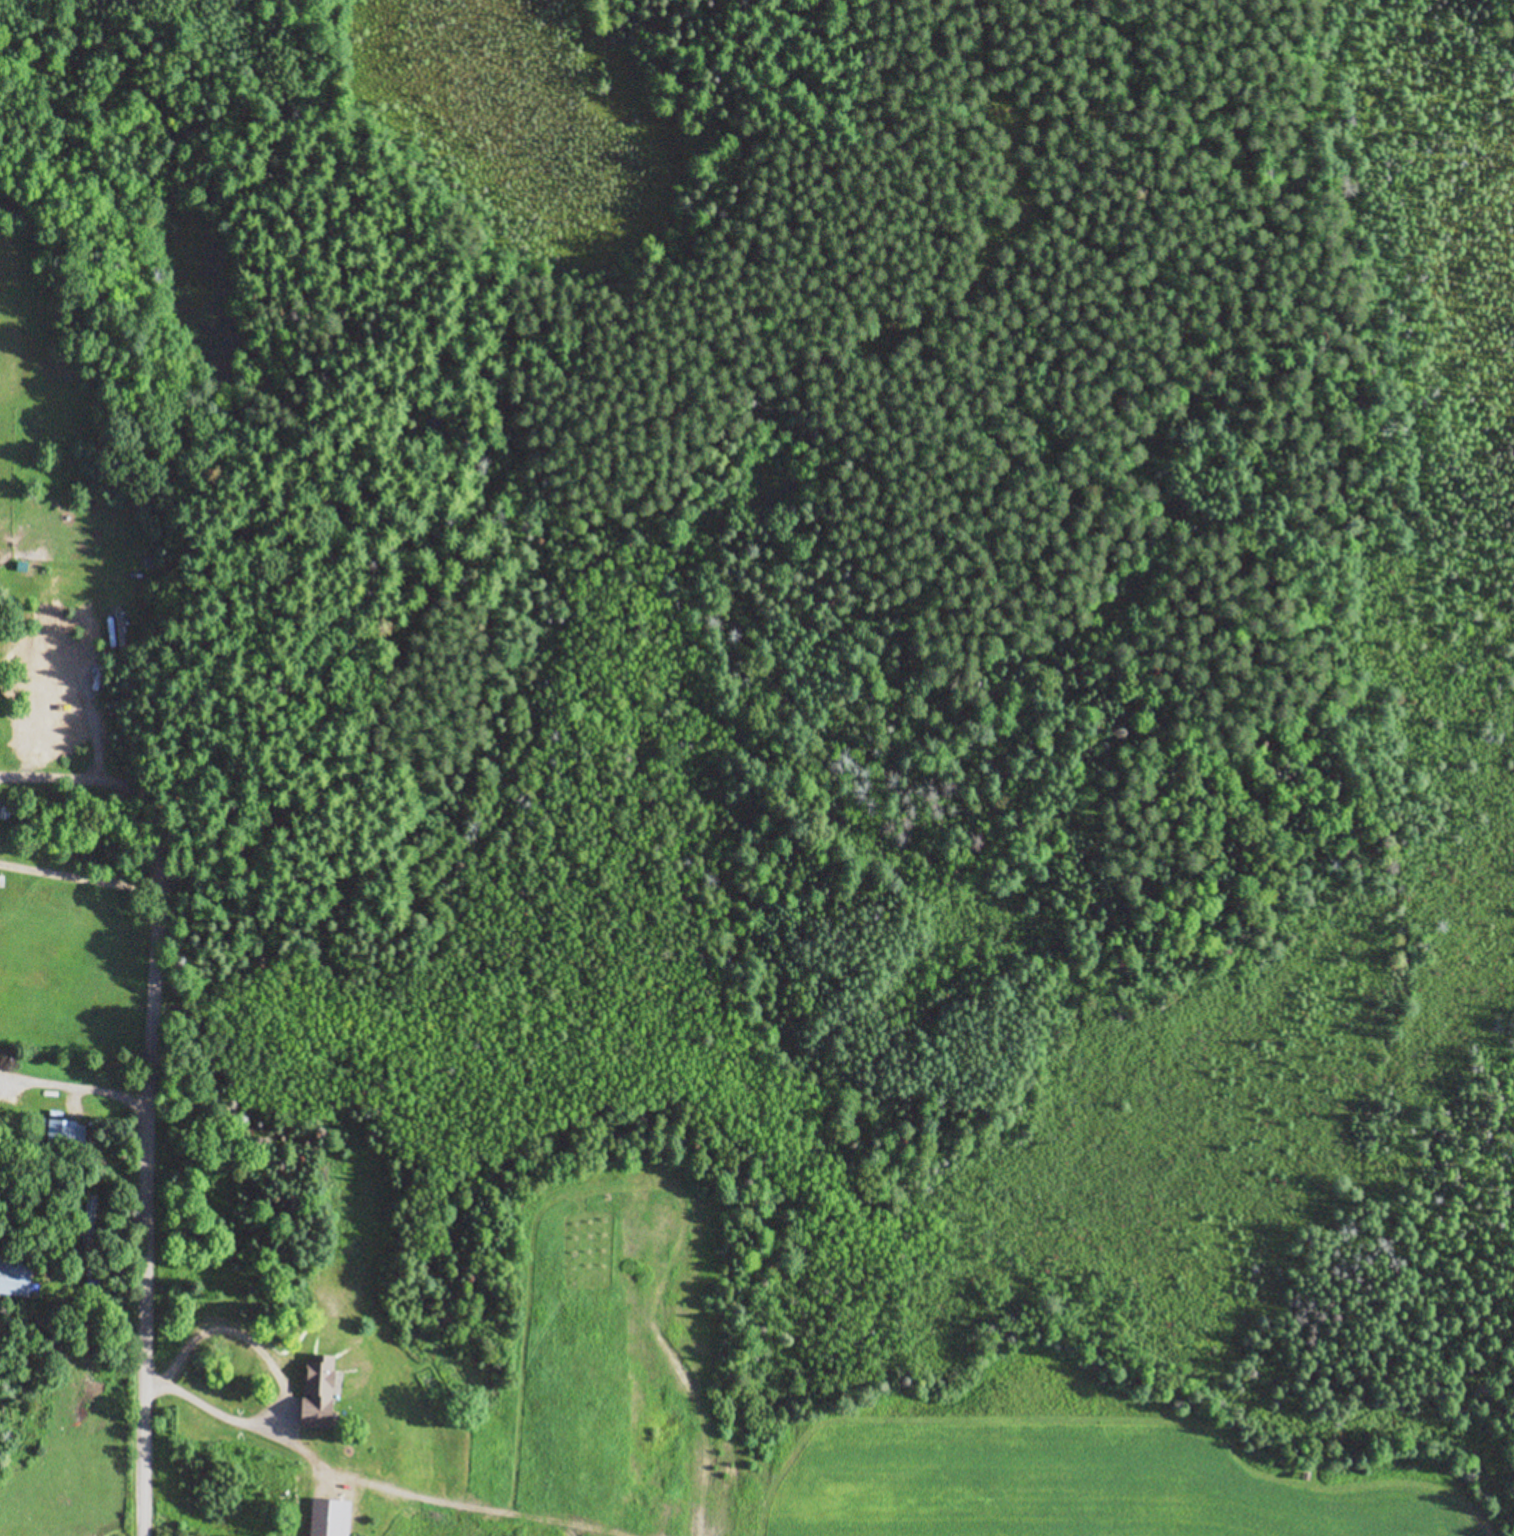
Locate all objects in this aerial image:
building: (116, 575)
building: (63, 1136)
road: (147, 1145)
building: (87, 1215)
building: (13, 1275)
building: (309, 1413)

